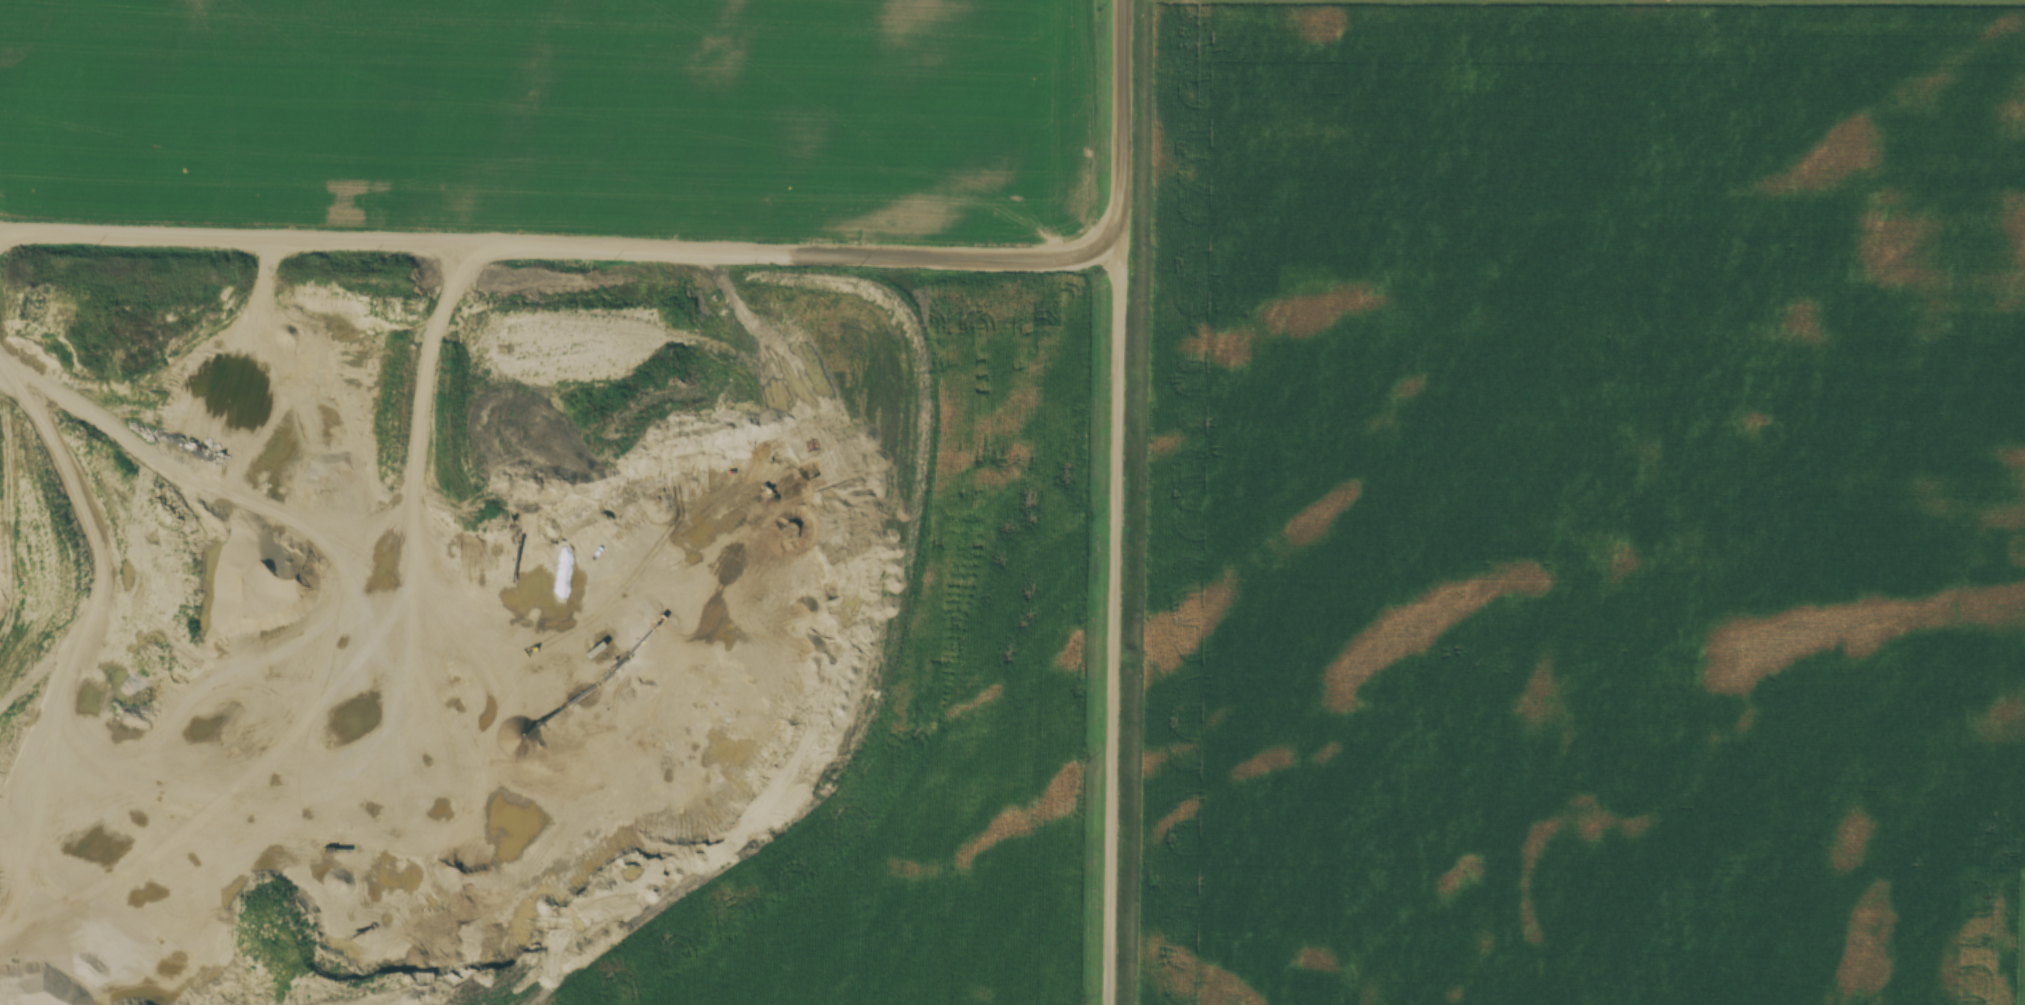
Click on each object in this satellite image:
road: (560, 266)
road: (1118, 502)

